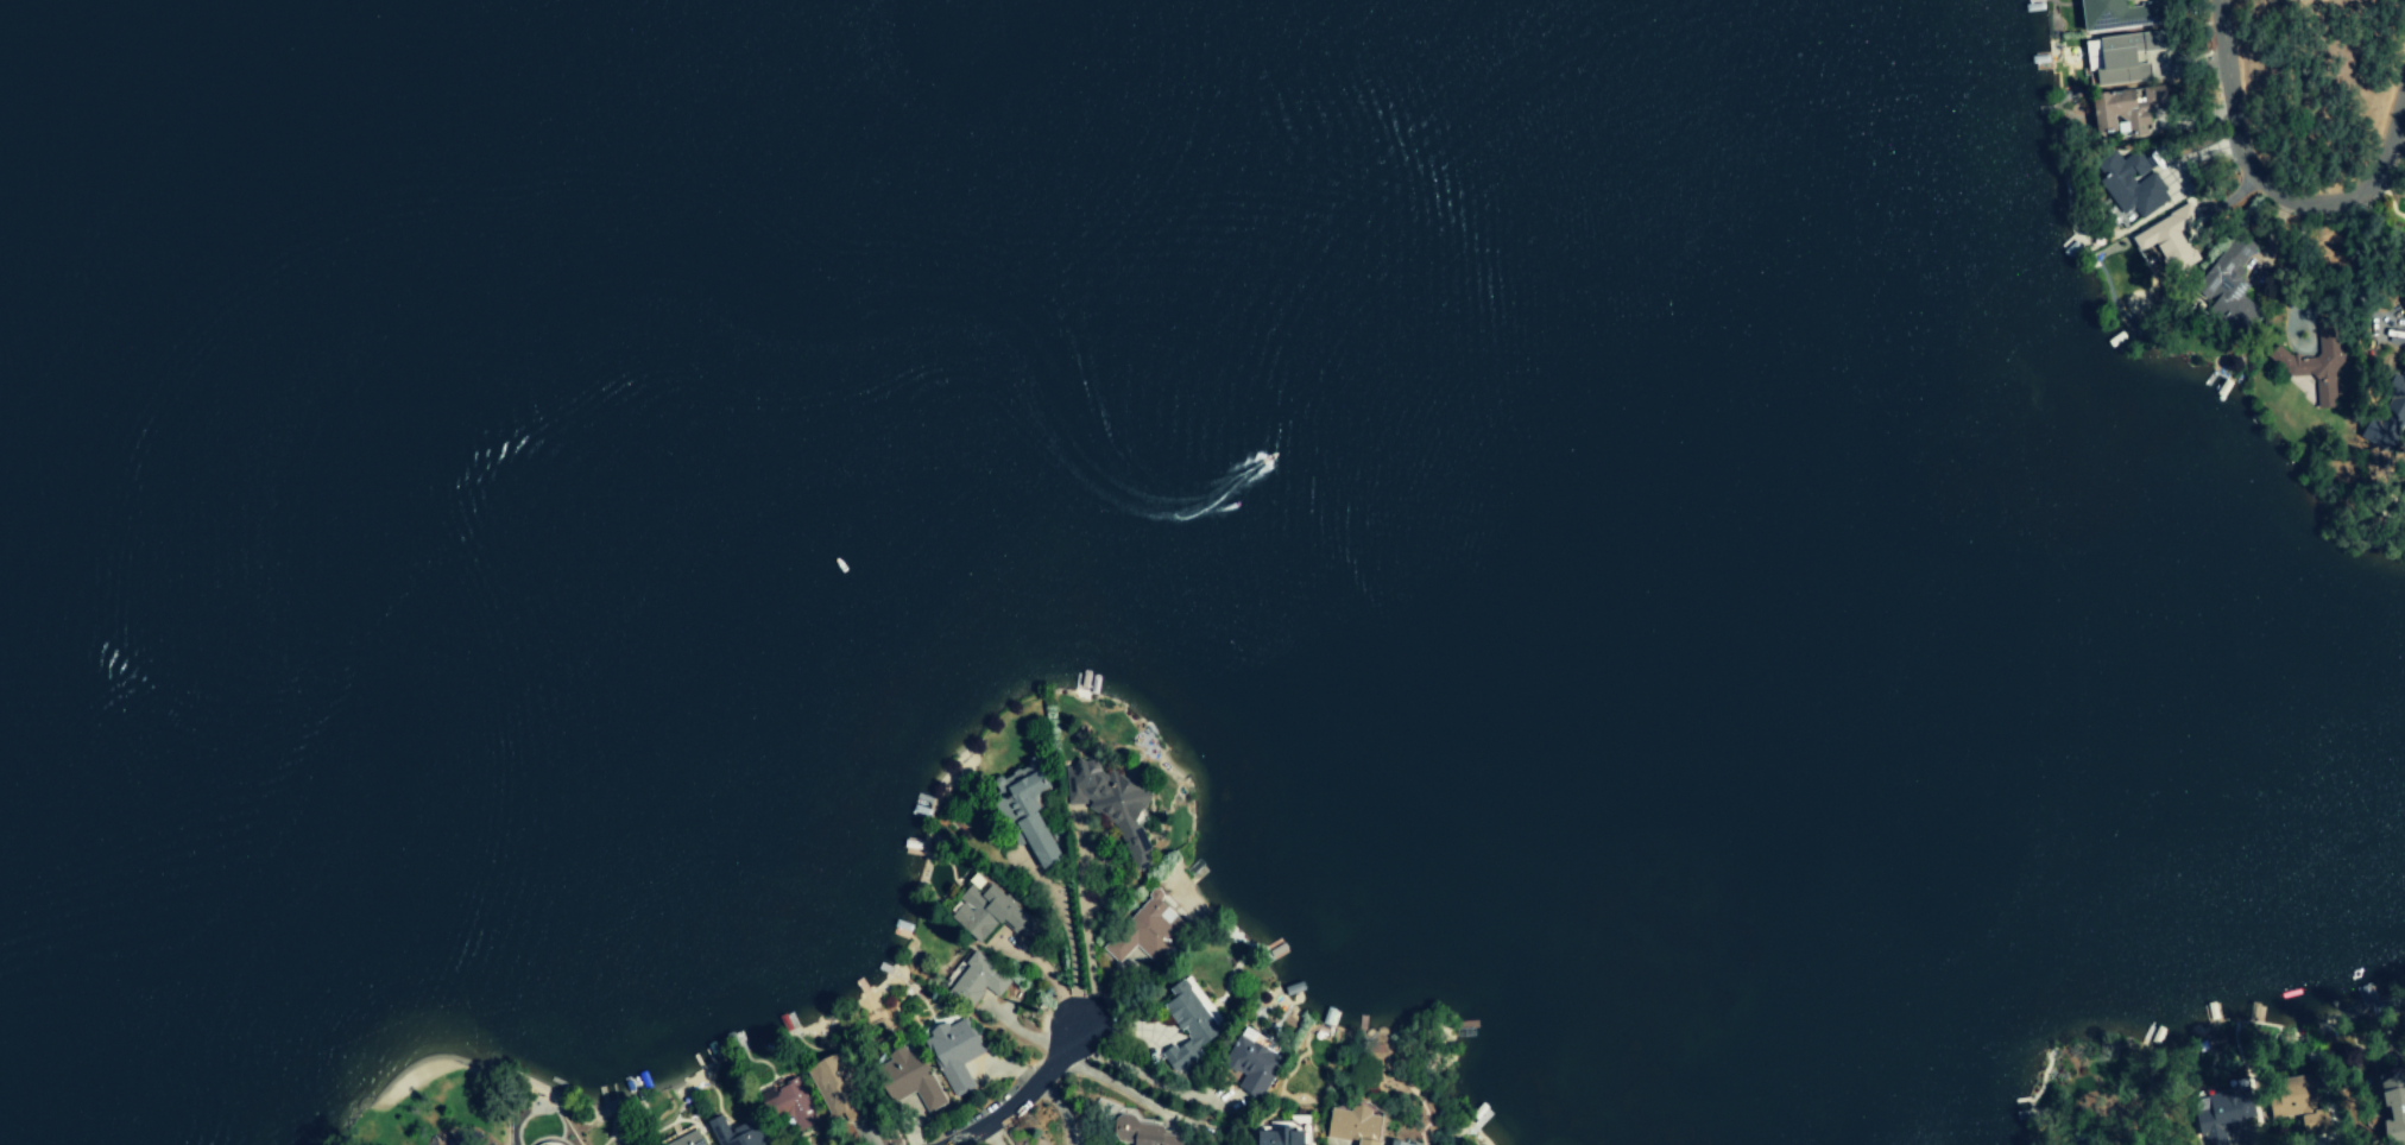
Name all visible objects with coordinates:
building: (2116, 14)
building: (2125, 58)
building: (2115, 113)
building: (2127, 185)
road: (2267, 195)
building: (2166, 241)
building: (2227, 289)
building: (2304, 372)
building: (2386, 412)
building: (981, 912)
building: (1149, 926)
road: (1074, 929)
building: (973, 981)
building: (1187, 1025)
building: (953, 1052)
building: (1251, 1063)
road: (1142, 1076)
building: (907, 1078)
road: (1106, 1082)
building: (832, 1084)
road: (1017, 1097)
building: (2287, 1097)
building: (791, 1106)
building: (2393, 1109)
building: (2218, 1115)
building: (2314, 1121)
building: (1353, 1126)
building: (1283, 1132)
building: (734, 1133)
road: (2252, 1141)
building: (1397, 1143)
building: (2088, 1144)

